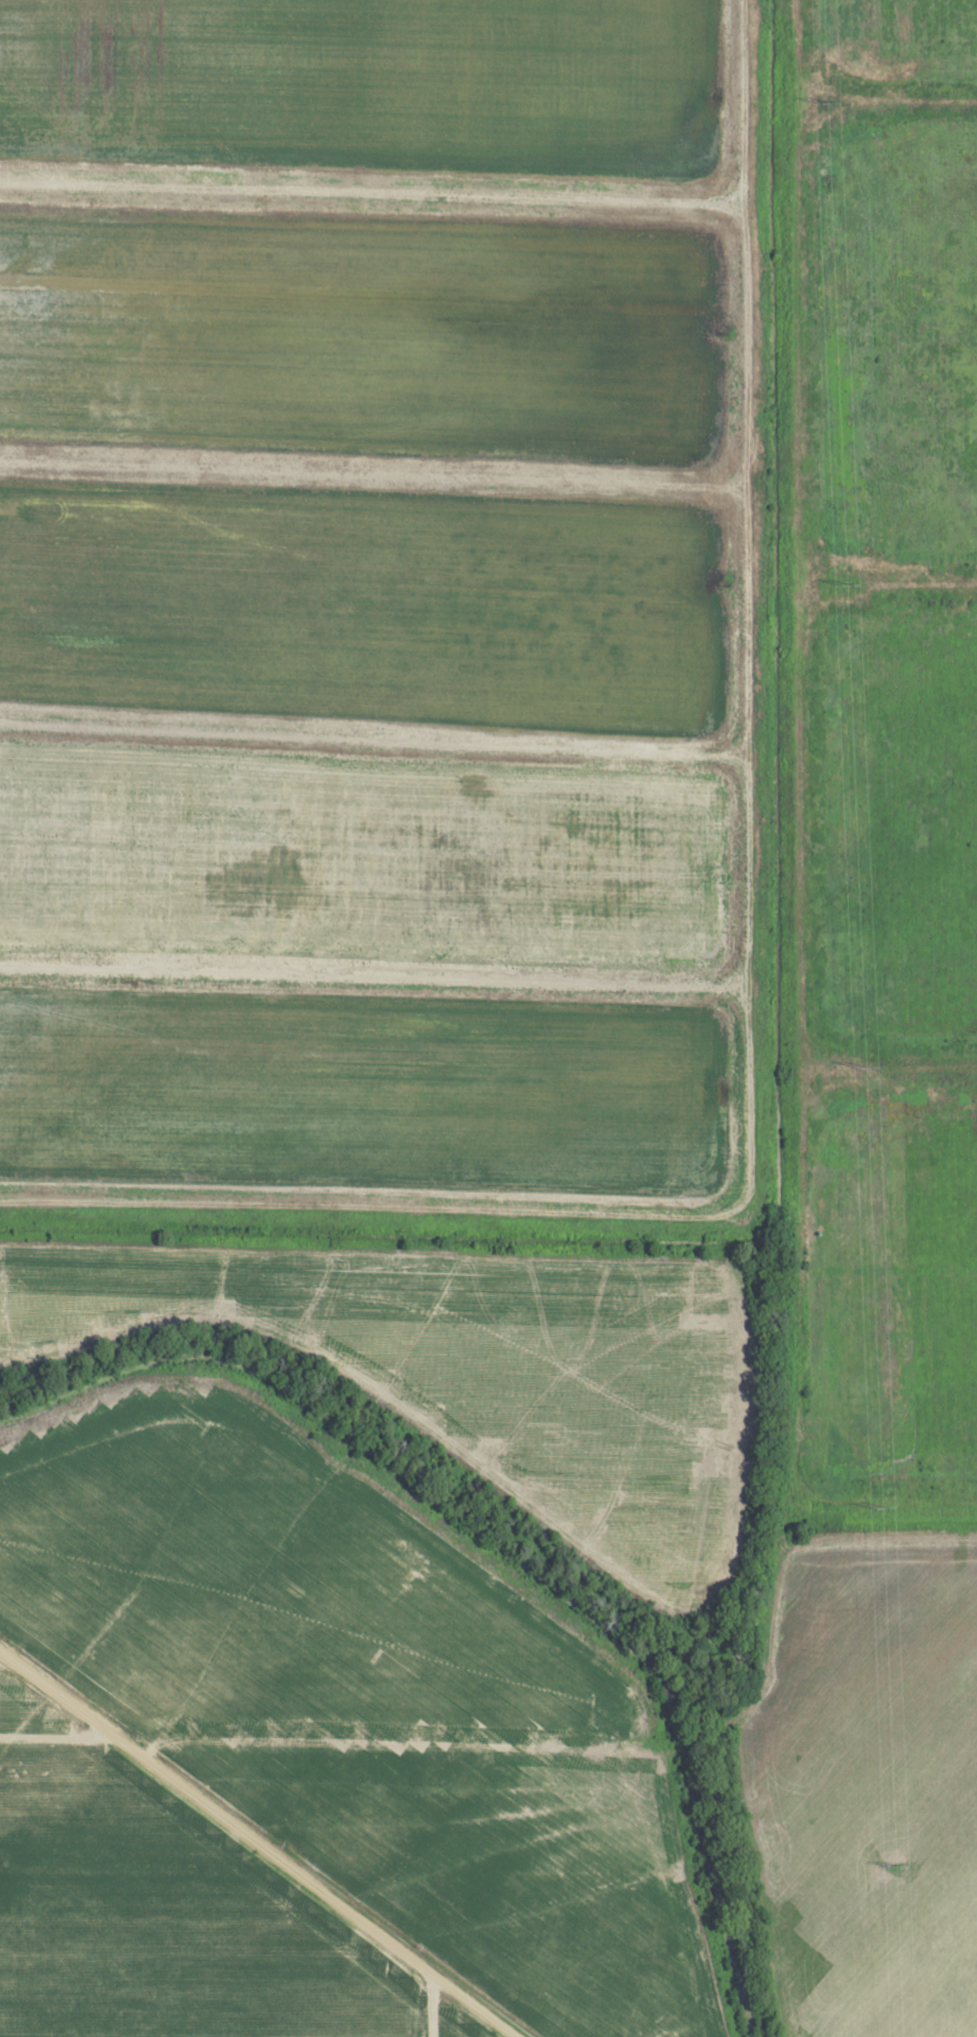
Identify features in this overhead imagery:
power tower: (827, 103)
power tower: (845, 585)
power tower: (864, 1069)
power tower: (880, 1507)
road: (259, 1843)
power tower: (894, 1866)

